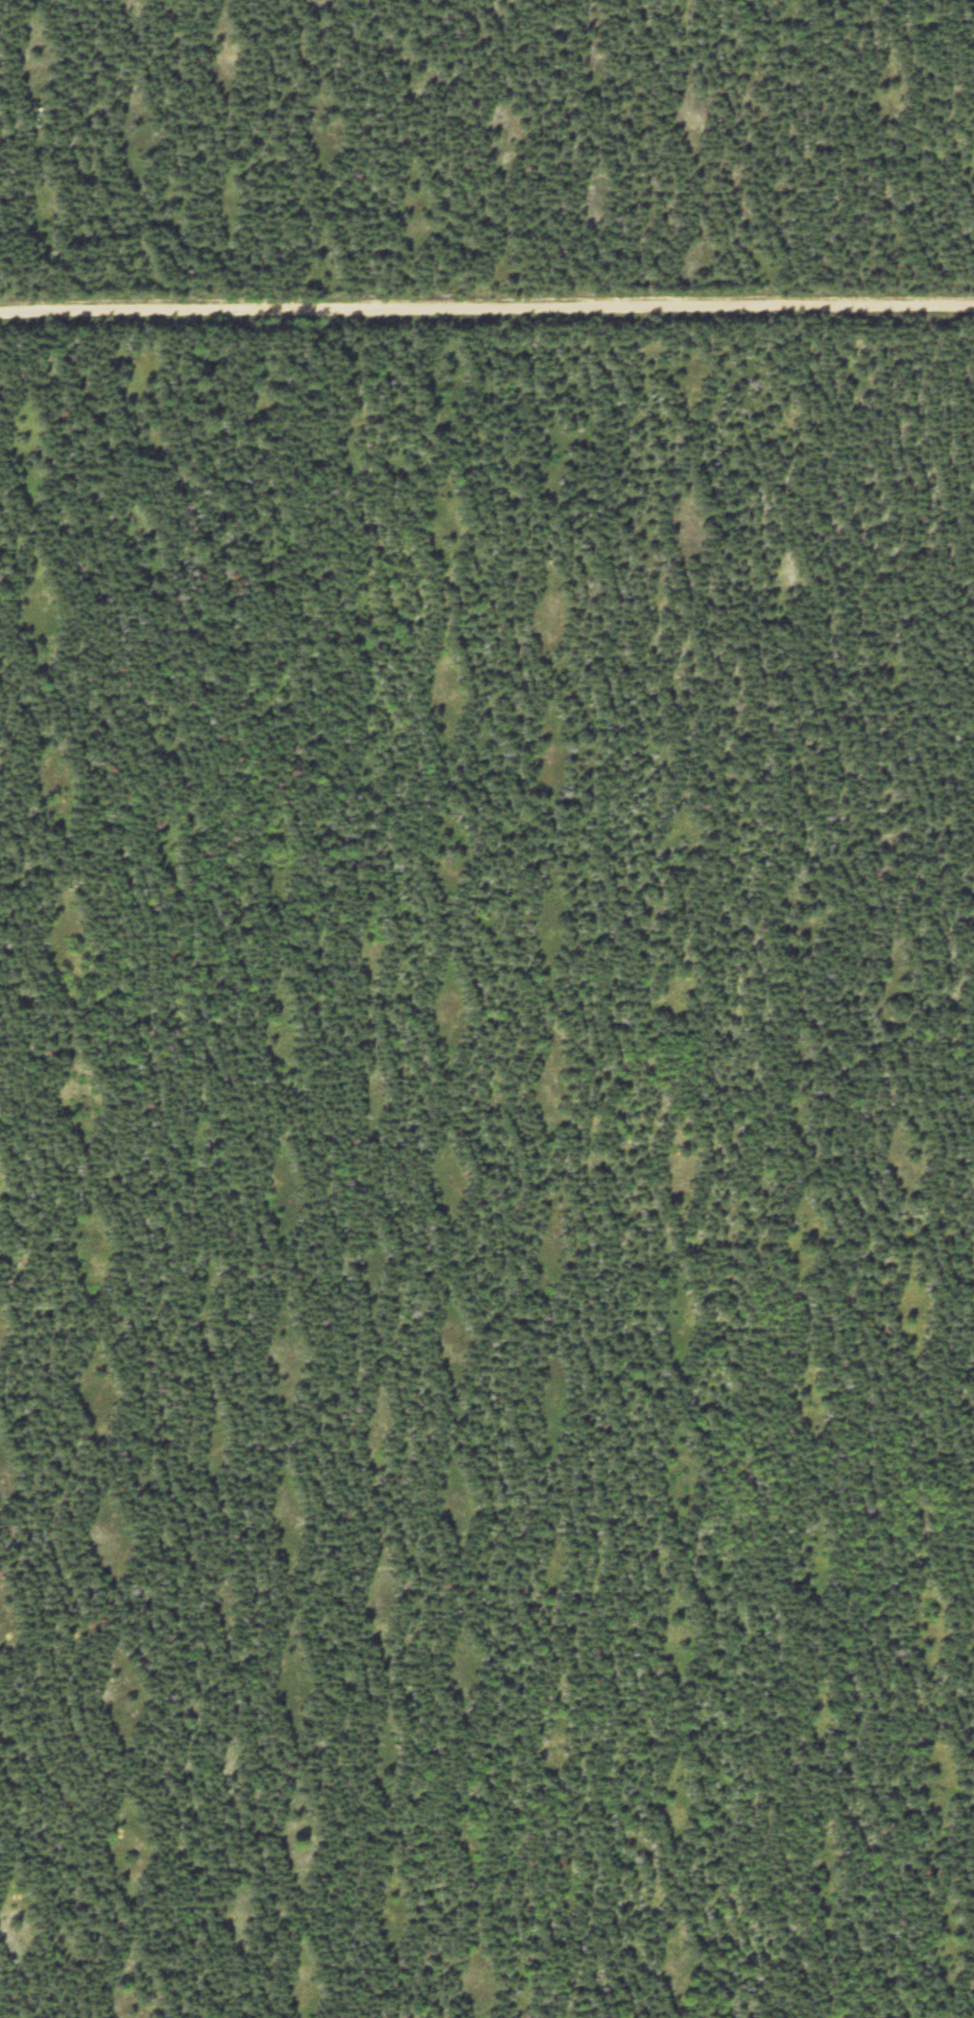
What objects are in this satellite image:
road: (487, 311)

